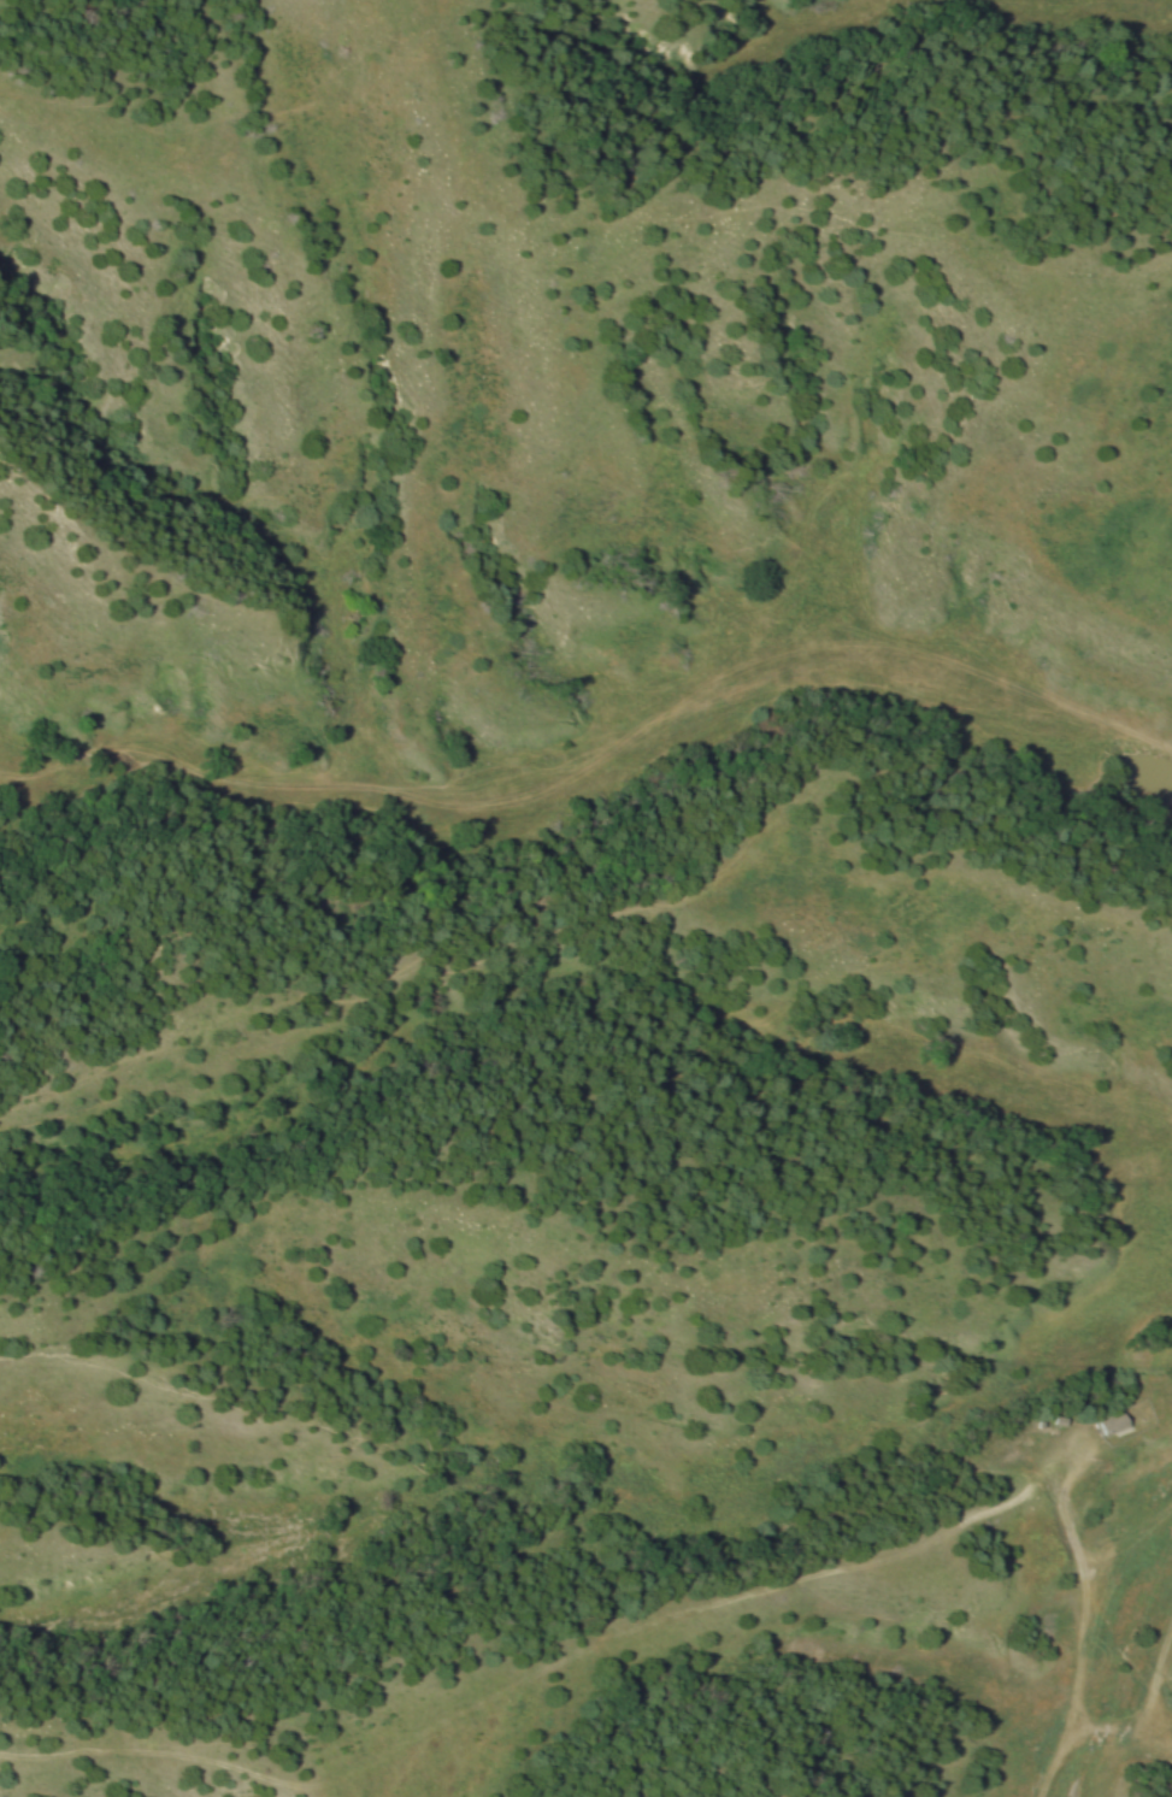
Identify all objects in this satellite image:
building: (1099, 1425)
road: (1132, 1740)

